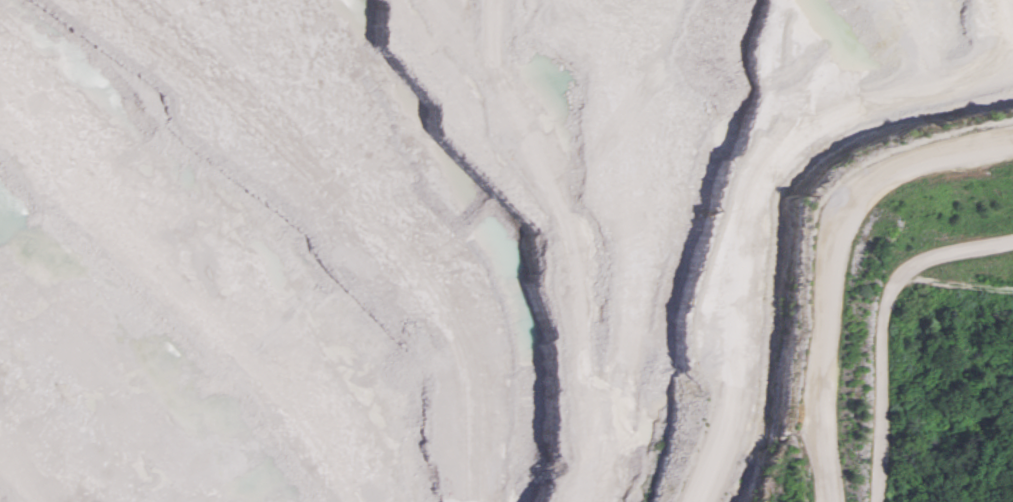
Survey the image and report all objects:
road: (1012, 0)
road: (776, 215)
quarry: (398, 254)
road: (521, 439)

